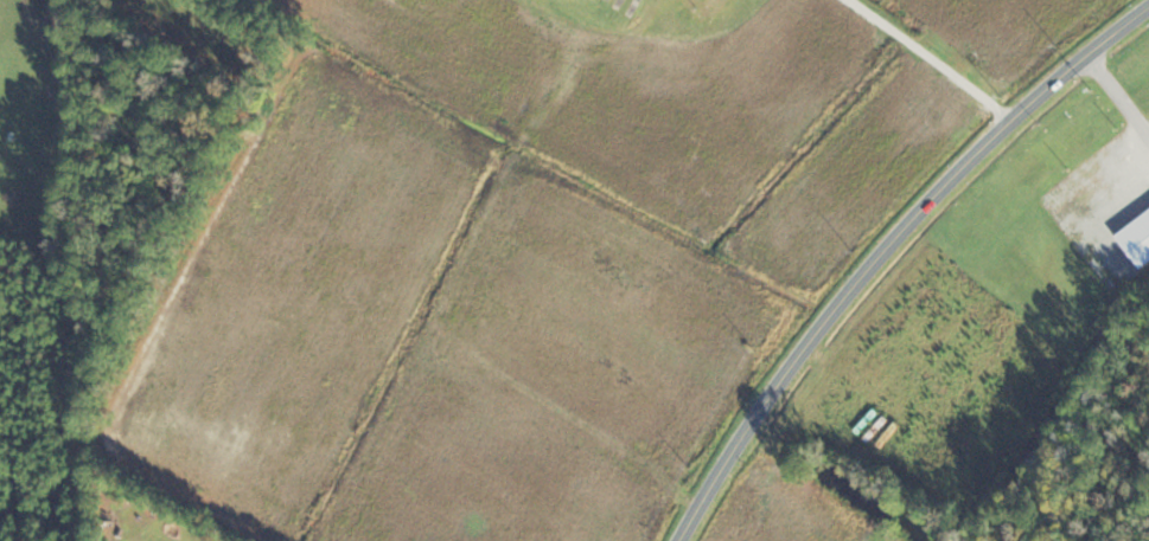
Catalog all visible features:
road: (928, 59)
road: (887, 253)

